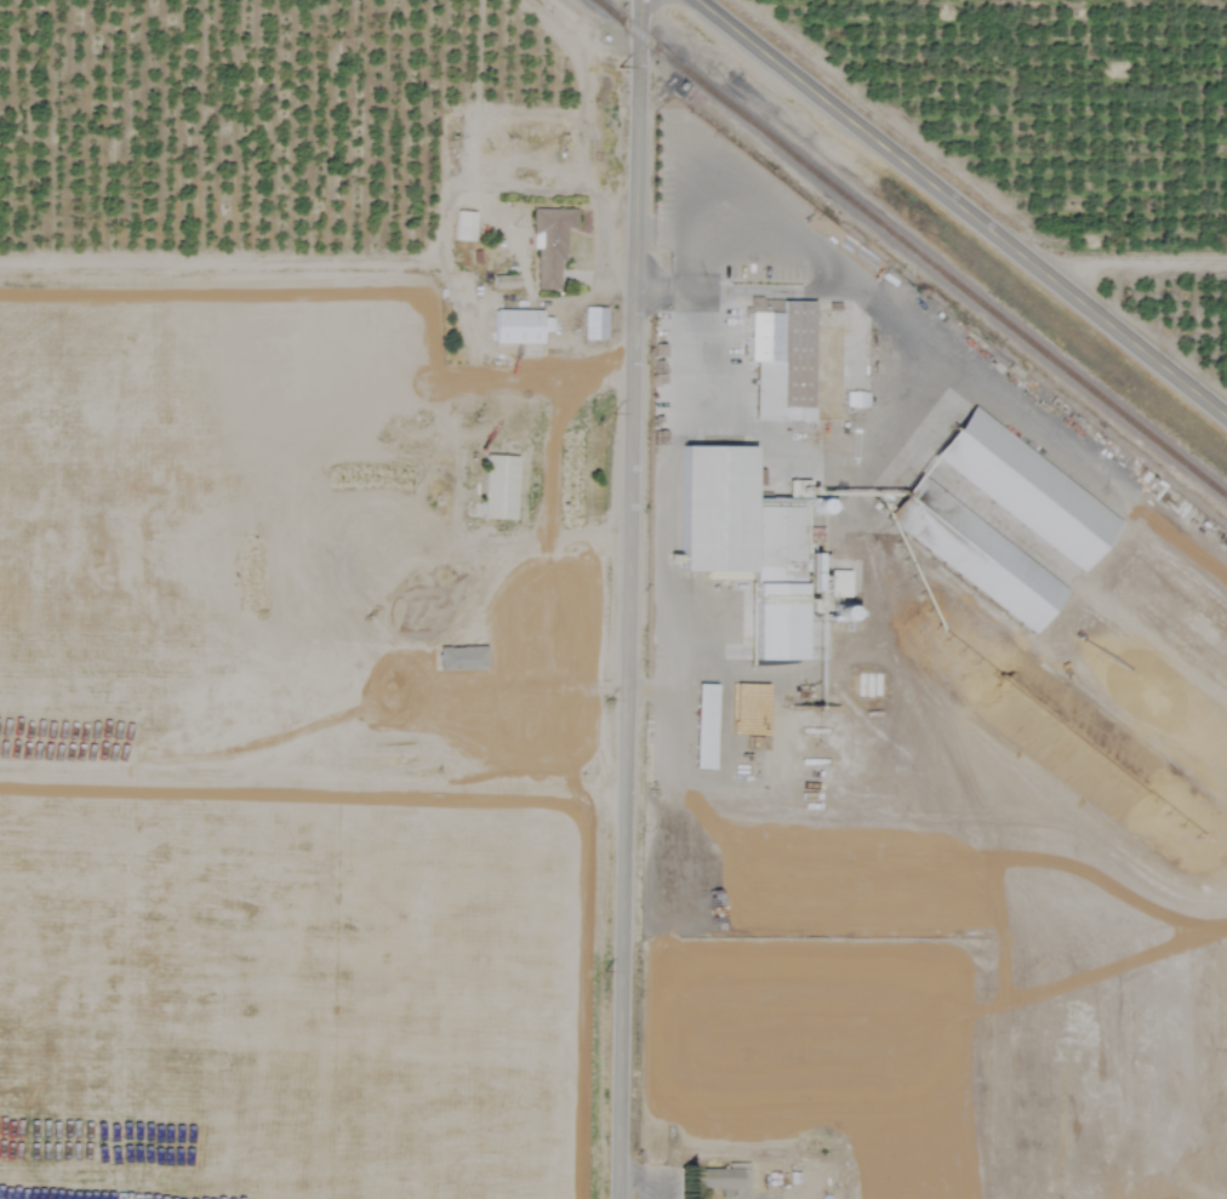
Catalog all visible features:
crop: (1074, 120)
road: (960, 209)
building: (463, 225)
building: (549, 245)
railway: (909, 250)
road: (1129, 264)
road: (698, 292)
road: (892, 304)
building: (594, 324)
building: (517, 327)
building: (789, 373)
building: (855, 400)
building: (498, 487)
building: (1034, 496)
building: (740, 530)
building: (392, 541)
building: (983, 559)
road: (627, 599)
building: (704, 727)
crop: (1209, 738)
crop: (420, 767)
building: (719, 1184)

